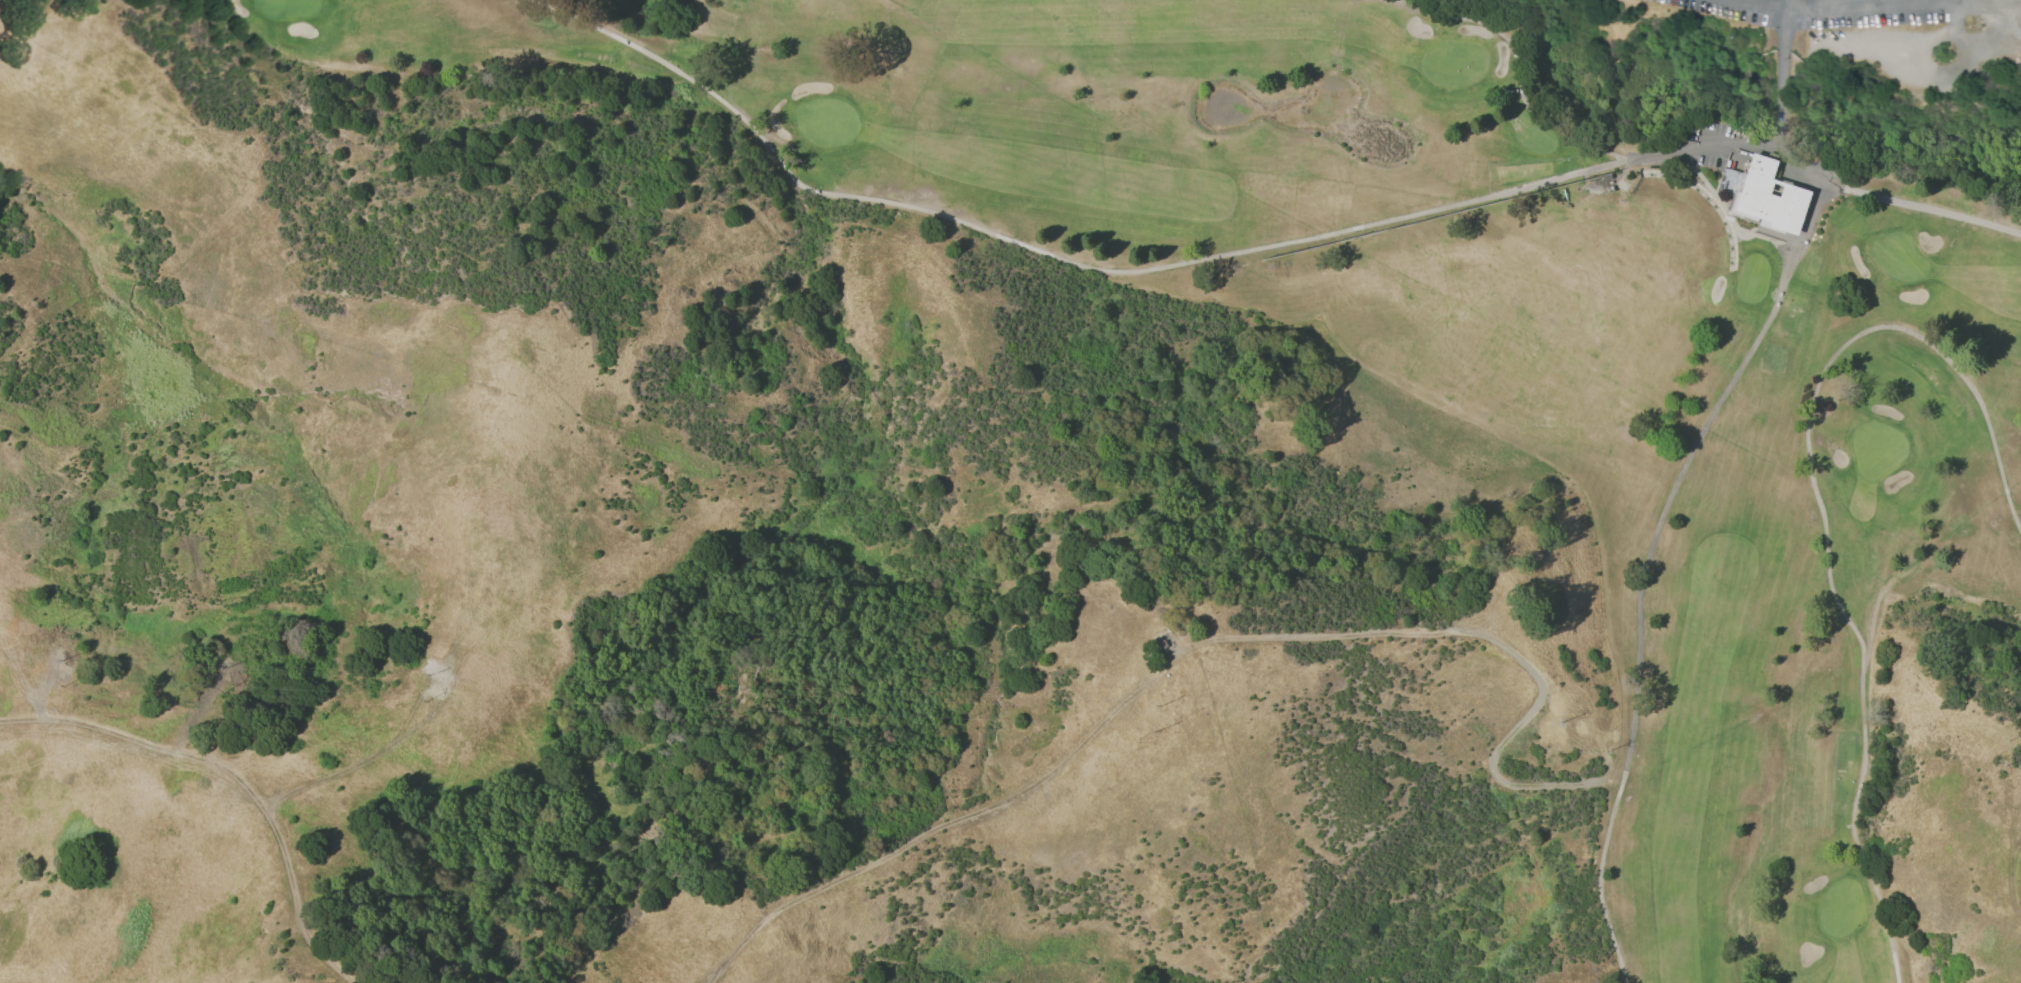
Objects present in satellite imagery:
road: (1766, 4)
road: (1785, 4)
road: (1786, 4)
road: (1874, 5)
road: (1783, 46)
road: (1780, 98)
road: (1780, 132)
road: (1588, 143)
building: (1763, 195)
road: (1895, 202)
road: (1051, 259)
park: (1466, 302)
road: (1643, 566)
road: (1199, 645)
road: (231, 776)

